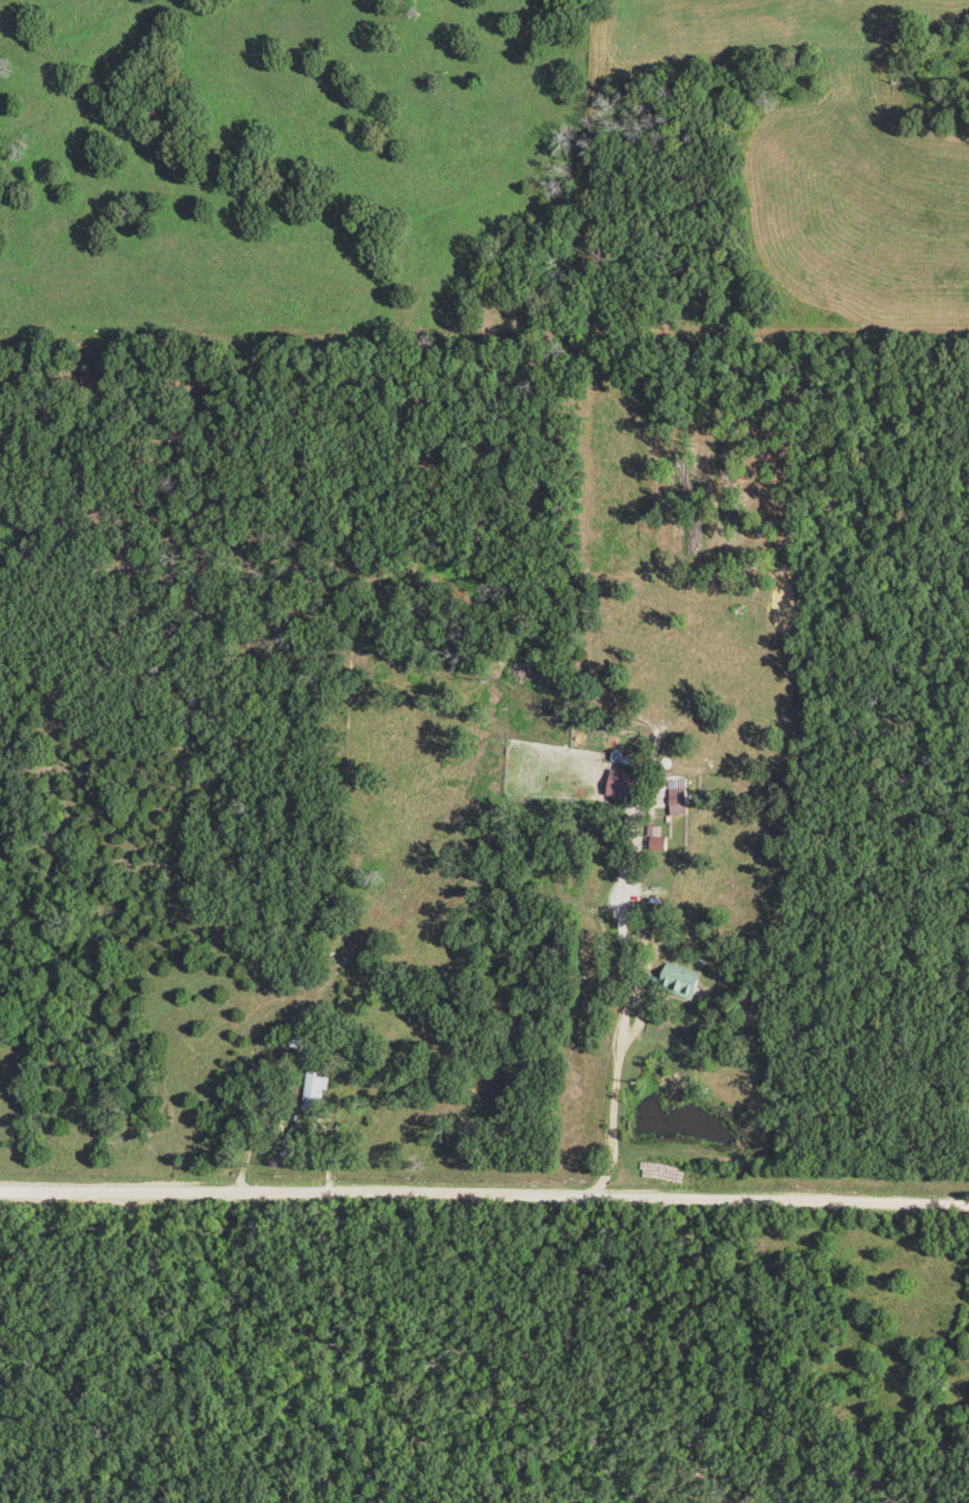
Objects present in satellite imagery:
building: (620, 787)
building: (676, 787)
building: (656, 839)
road: (282, 944)
building: (680, 979)
road: (614, 1089)
building: (316, 1091)
road: (484, 1190)

